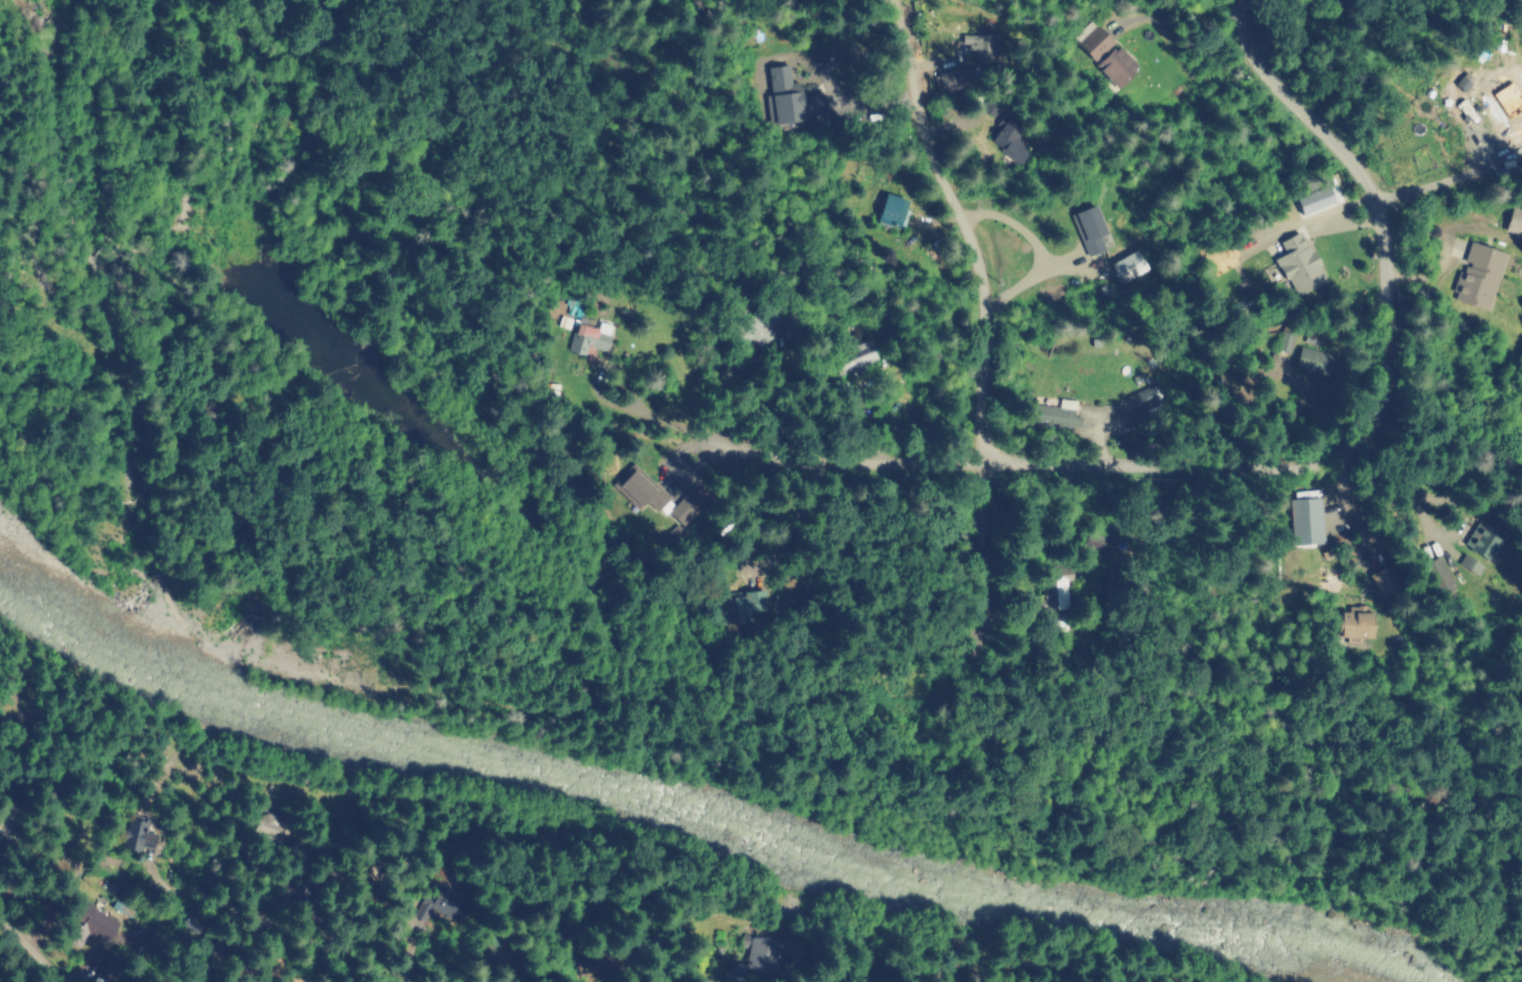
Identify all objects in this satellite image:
building: (1091, 39)
building: (982, 47)
road: (1178, 54)
building: (1116, 64)
building: (953, 76)
building: (791, 99)
building: (1003, 130)
road: (1450, 176)
building: (1315, 201)
road: (1371, 202)
building: (889, 210)
road: (1338, 212)
building: (1515, 220)
building: (1089, 229)
road: (1036, 245)
building: (1125, 263)
building: (1298, 263)
building: (1479, 274)
road: (980, 314)
building: (756, 326)
building: (590, 335)
building: (1284, 339)
building: (853, 356)
building: (1315, 361)
building: (1225, 382)
building: (1141, 398)
building: (1053, 416)
road: (932, 463)
building: (641, 489)
building: (685, 501)
building: (1306, 521)
building: (1482, 538)
building: (1468, 562)
building: (1437, 574)
building: (1385, 580)
building: (1051, 582)
building: (740, 605)
building: (1350, 621)
river: (663, 798)
building: (13, 818)
building: (267, 826)
building: (131, 833)
building: (326, 874)
building: (386, 885)
building: (36, 900)
building: (436, 904)
road: (231, 909)
building: (85, 923)
road: (30, 943)
building: (493, 949)
building: (752, 957)
building: (591, 963)
building: (108, 968)
building: (247, 969)

